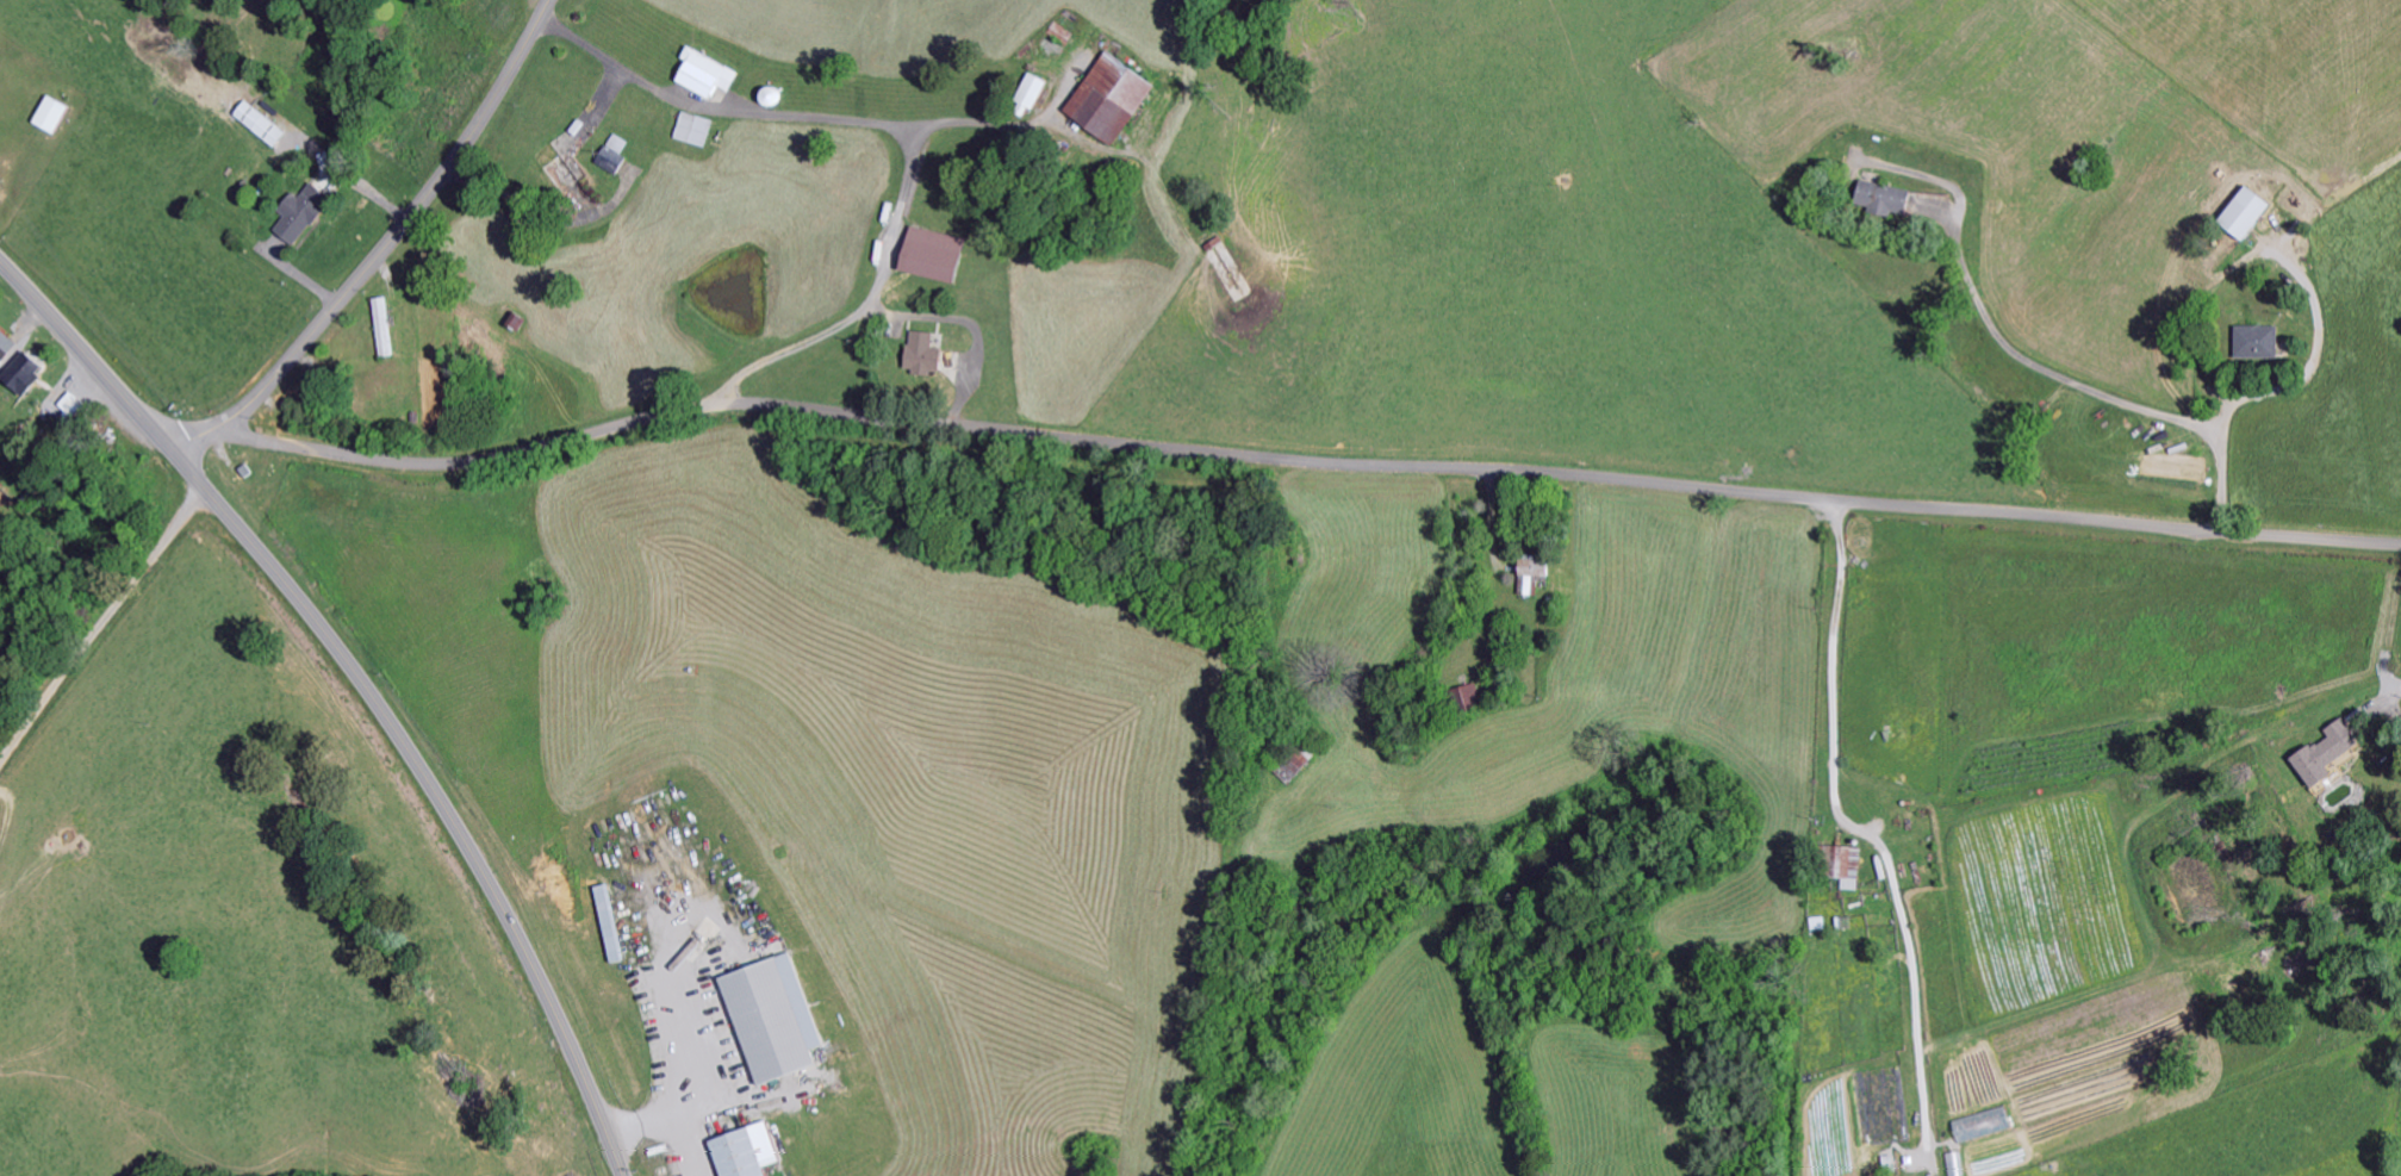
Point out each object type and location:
building: (698, 77)
building: (1020, 93)
building: (1100, 99)
building: (43, 117)
building: (255, 126)
building: (689, 132)
building: (608, 158)
building: (1876, 201)
building: (294, 216)
building: (2239, 216)
road: (405, 223)
building: (926, 257)
building: (379, 330)
building: (2251, 346)
building: (2, 348)
building: (918, 357)
building: (17, 377)
building: (64, 407)
road: (1275, 456)
building: (1525, 577)
road: (362, 685)
building: (1460, 702)
building: (2320, 757)
building: (1836, 870)
building: (602, 927)
building: (766, 1021)
road: (835, 1041)
building: (1977, 1128)
building: (739, 1153)
building: (1951, 1165)

